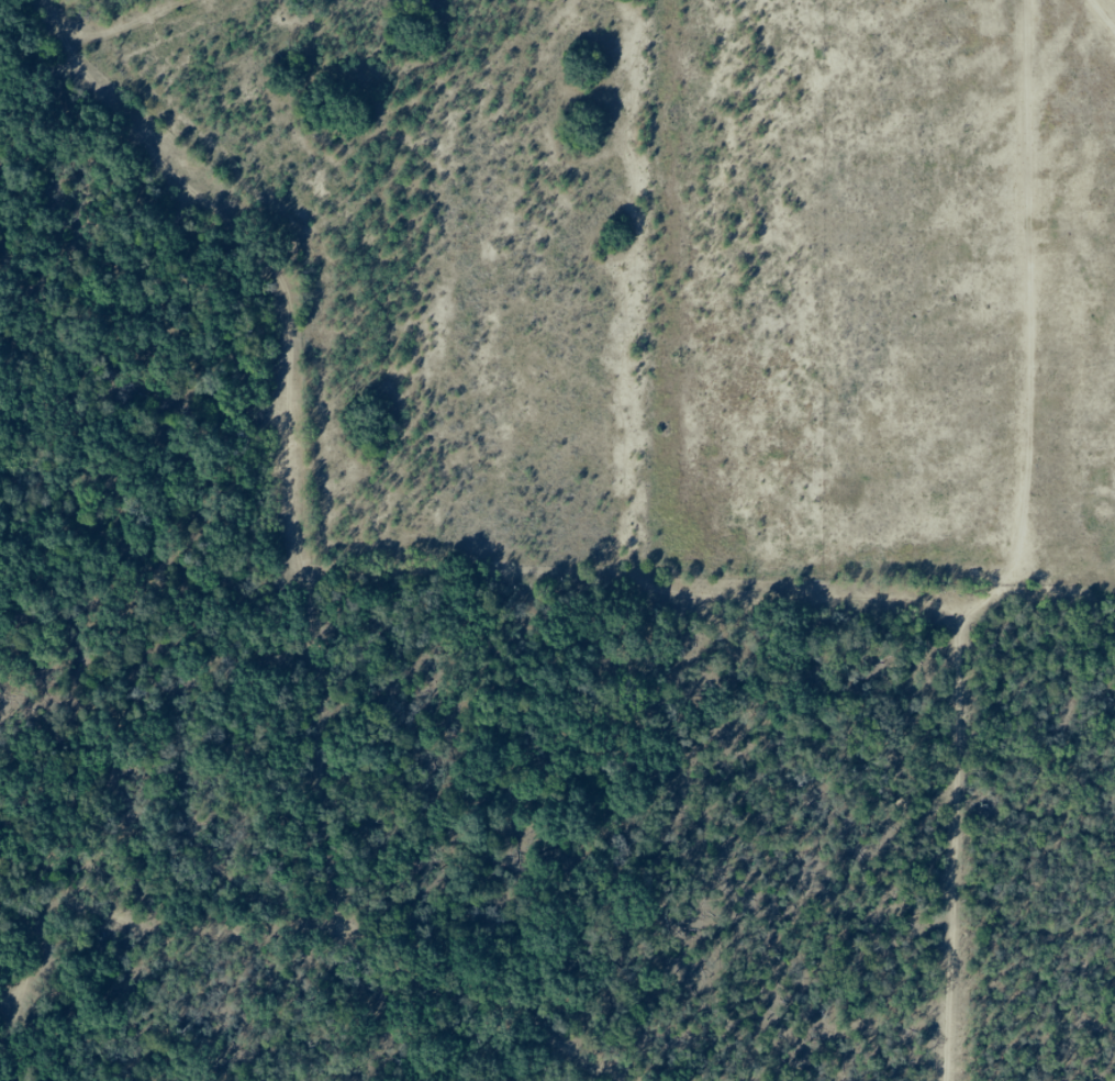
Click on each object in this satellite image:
road: (1010, 548)

